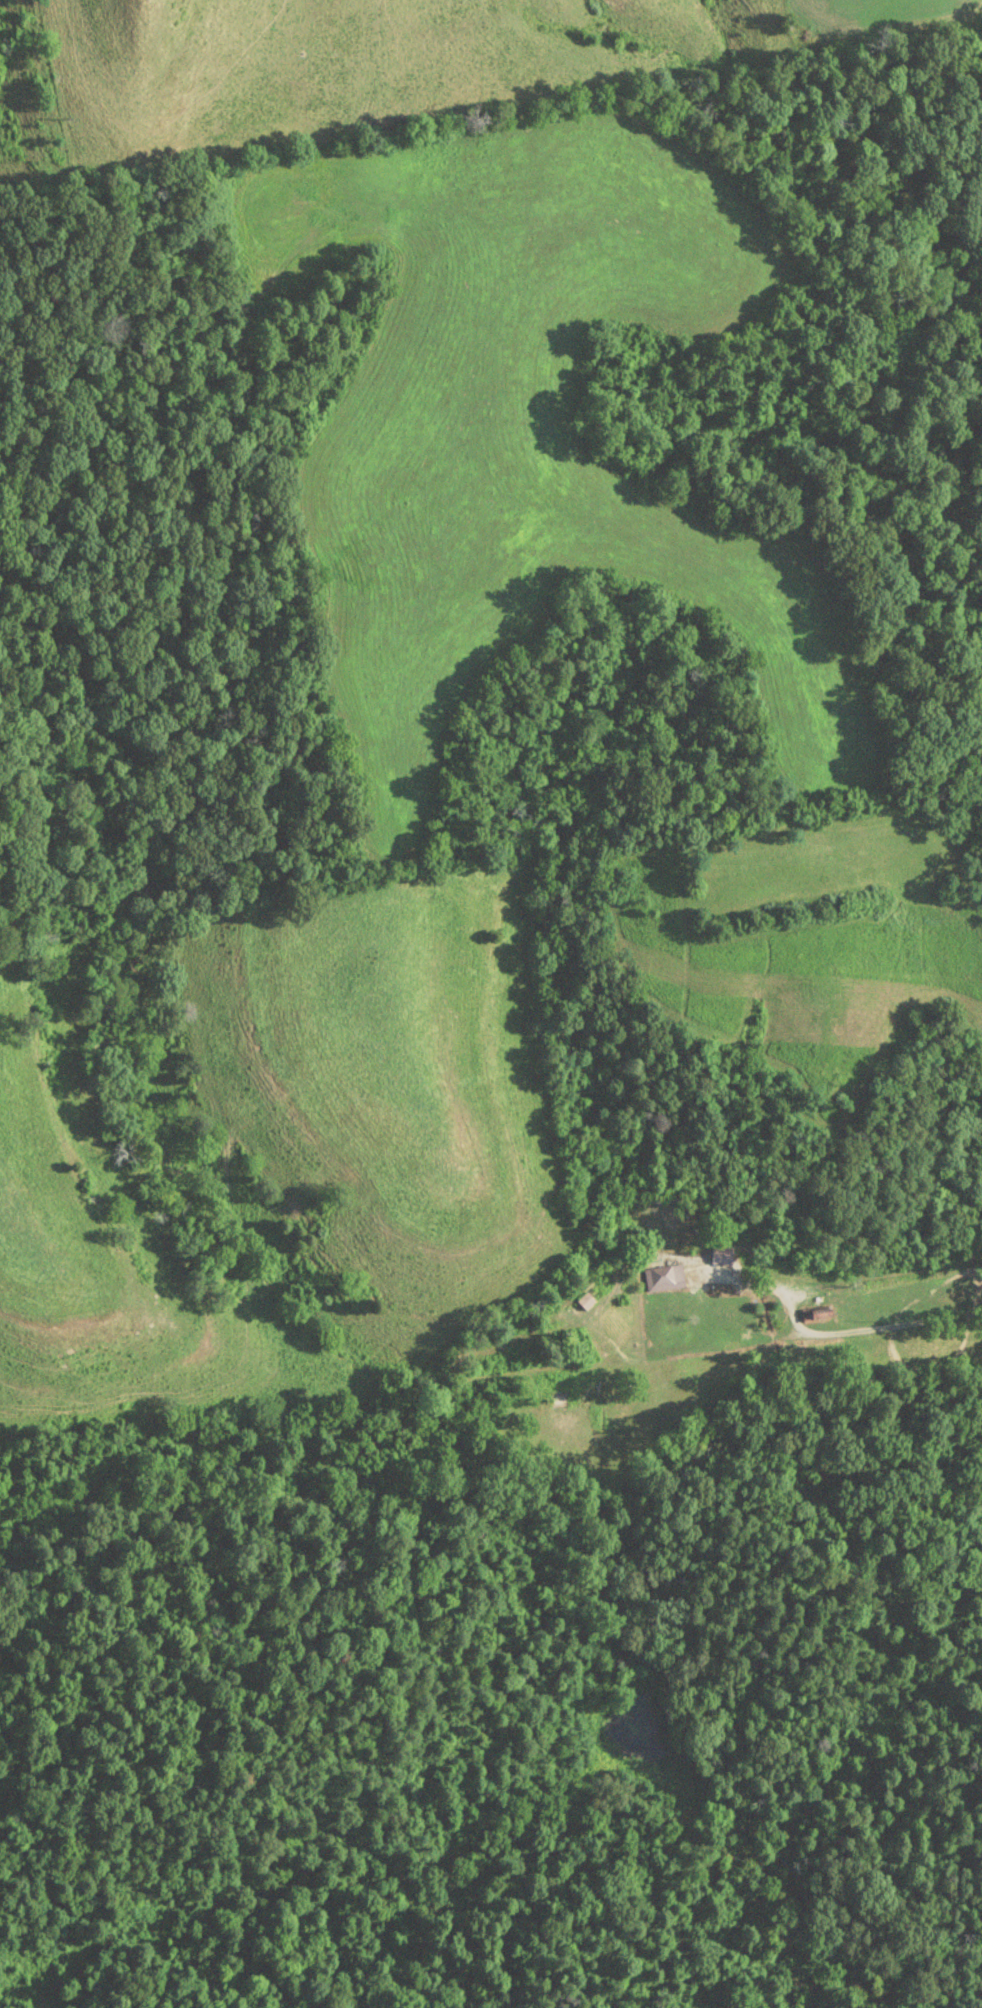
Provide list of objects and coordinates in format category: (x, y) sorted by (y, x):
building: (663, 1196)
building: (721, 1257)
building: (664, 1279)
building: (815, 1316)
road: (782, 1351)
building: (557, 1397)

